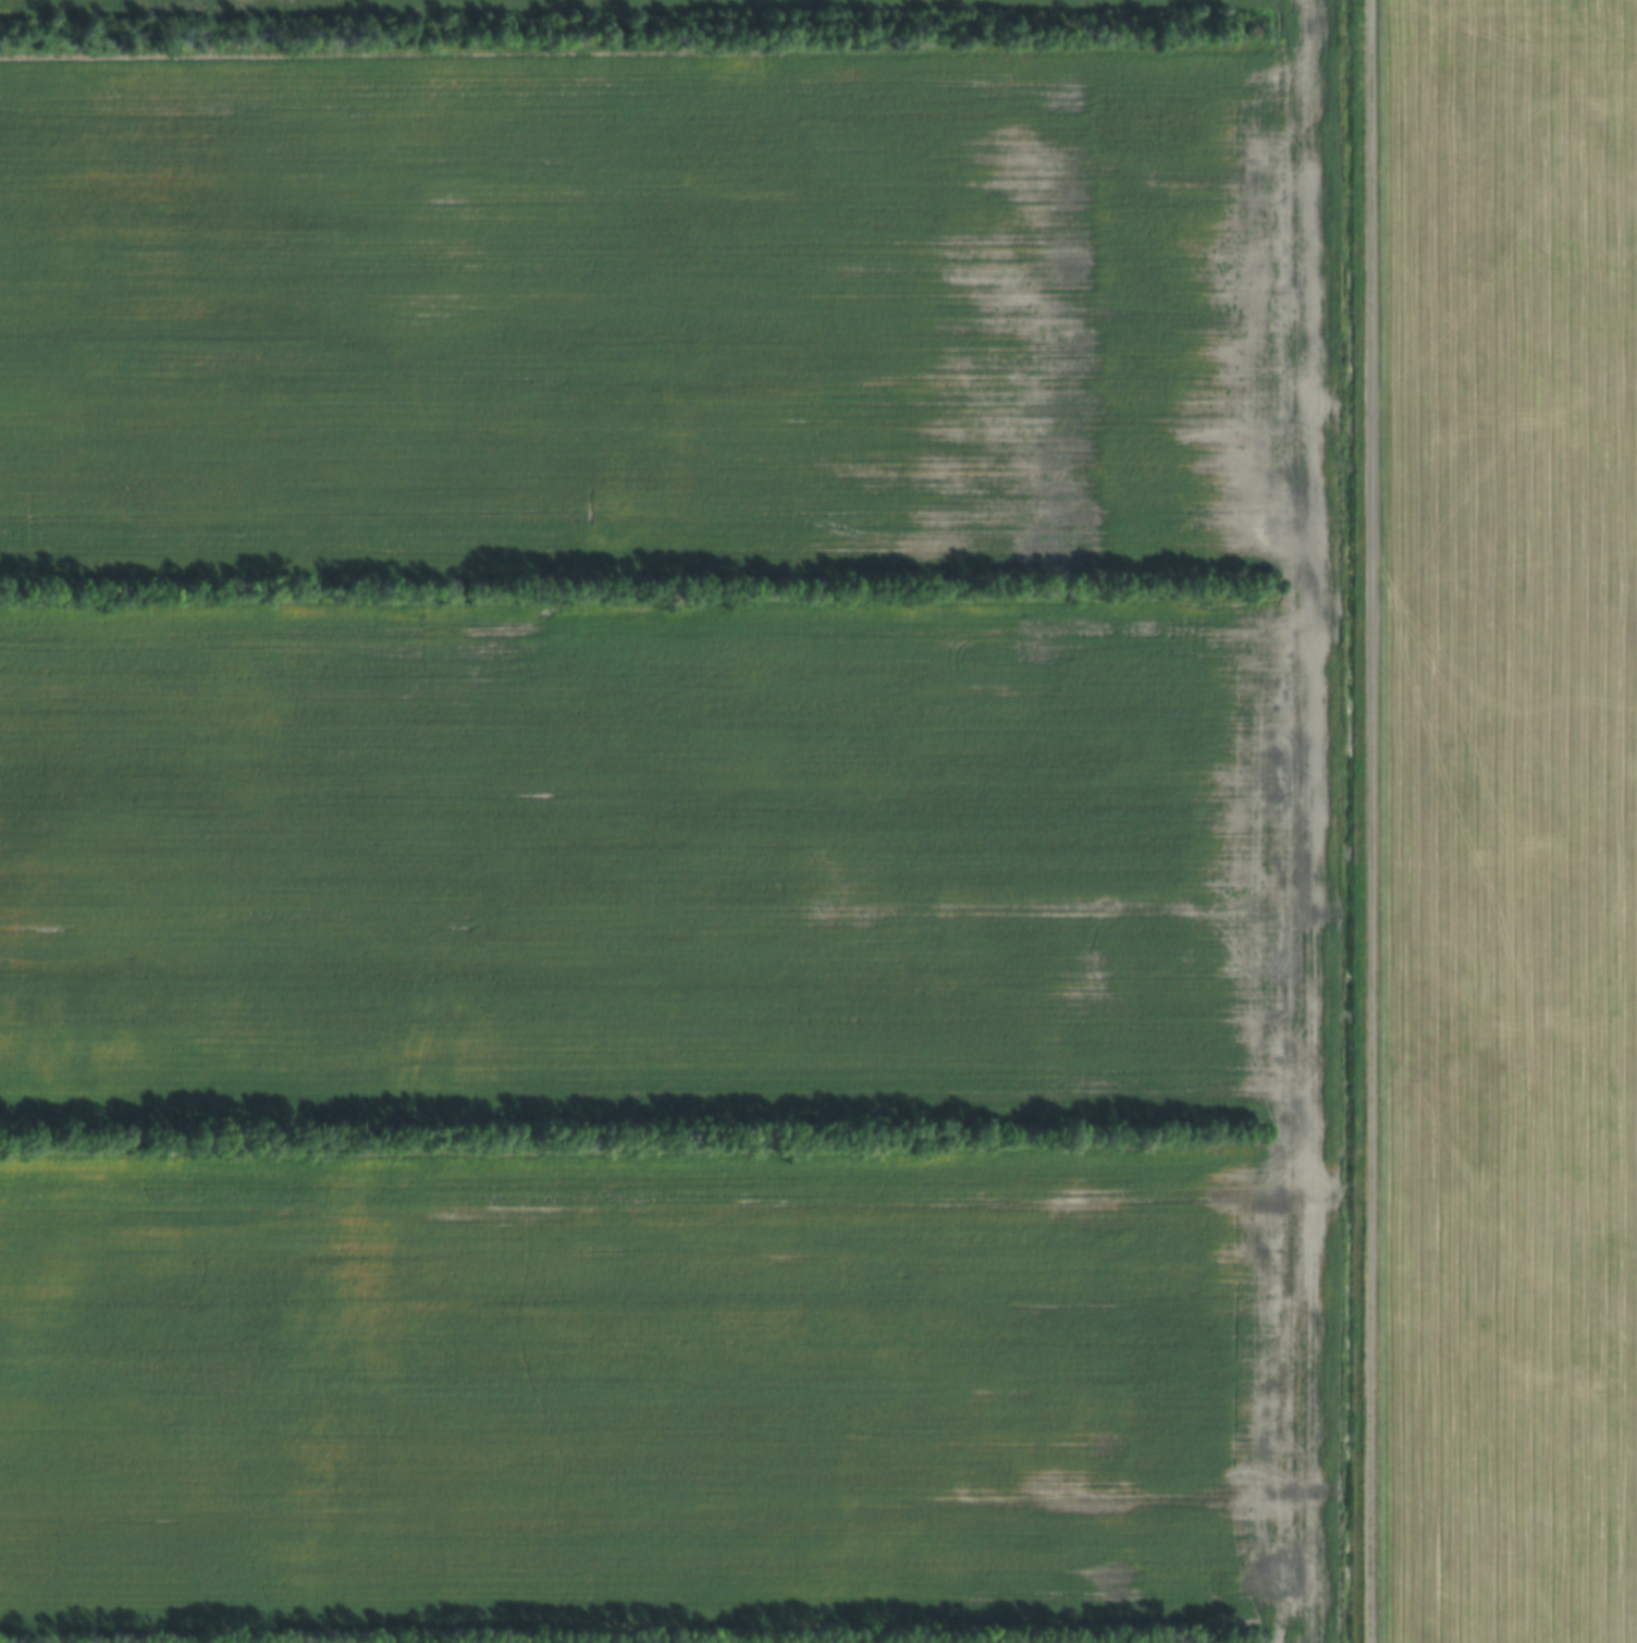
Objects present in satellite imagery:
road: (1374, 821)

